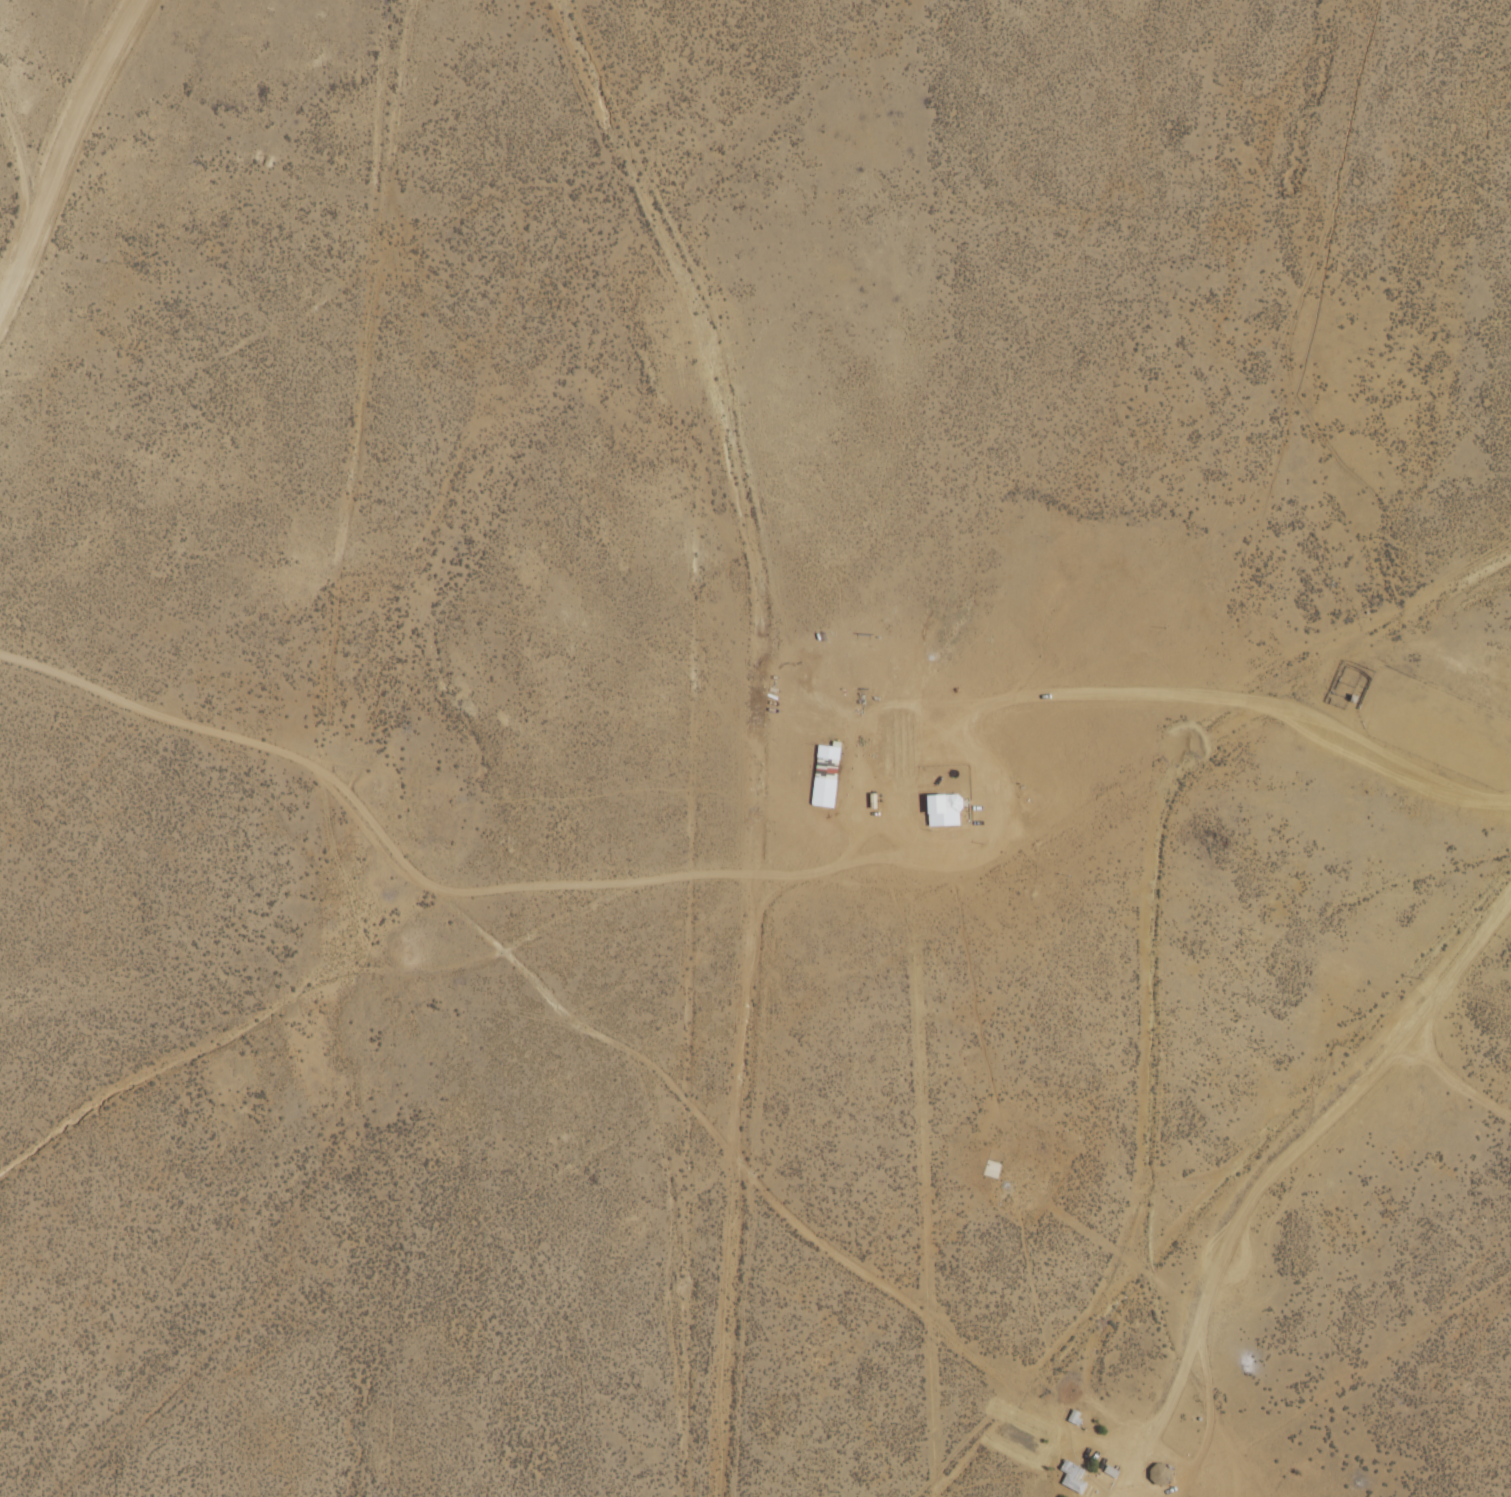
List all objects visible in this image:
road: (72, 158)
road: (229, 732)
building: (815, 786)
building: (939, 803)
road: (1099, 835)
road: (1470, 957)
road: (550, 989)
road: (1219, 1168)
road: (727, 1327)
road: (1037, 1431)
building: (1157, 1473)
building: (1070, 1477)

